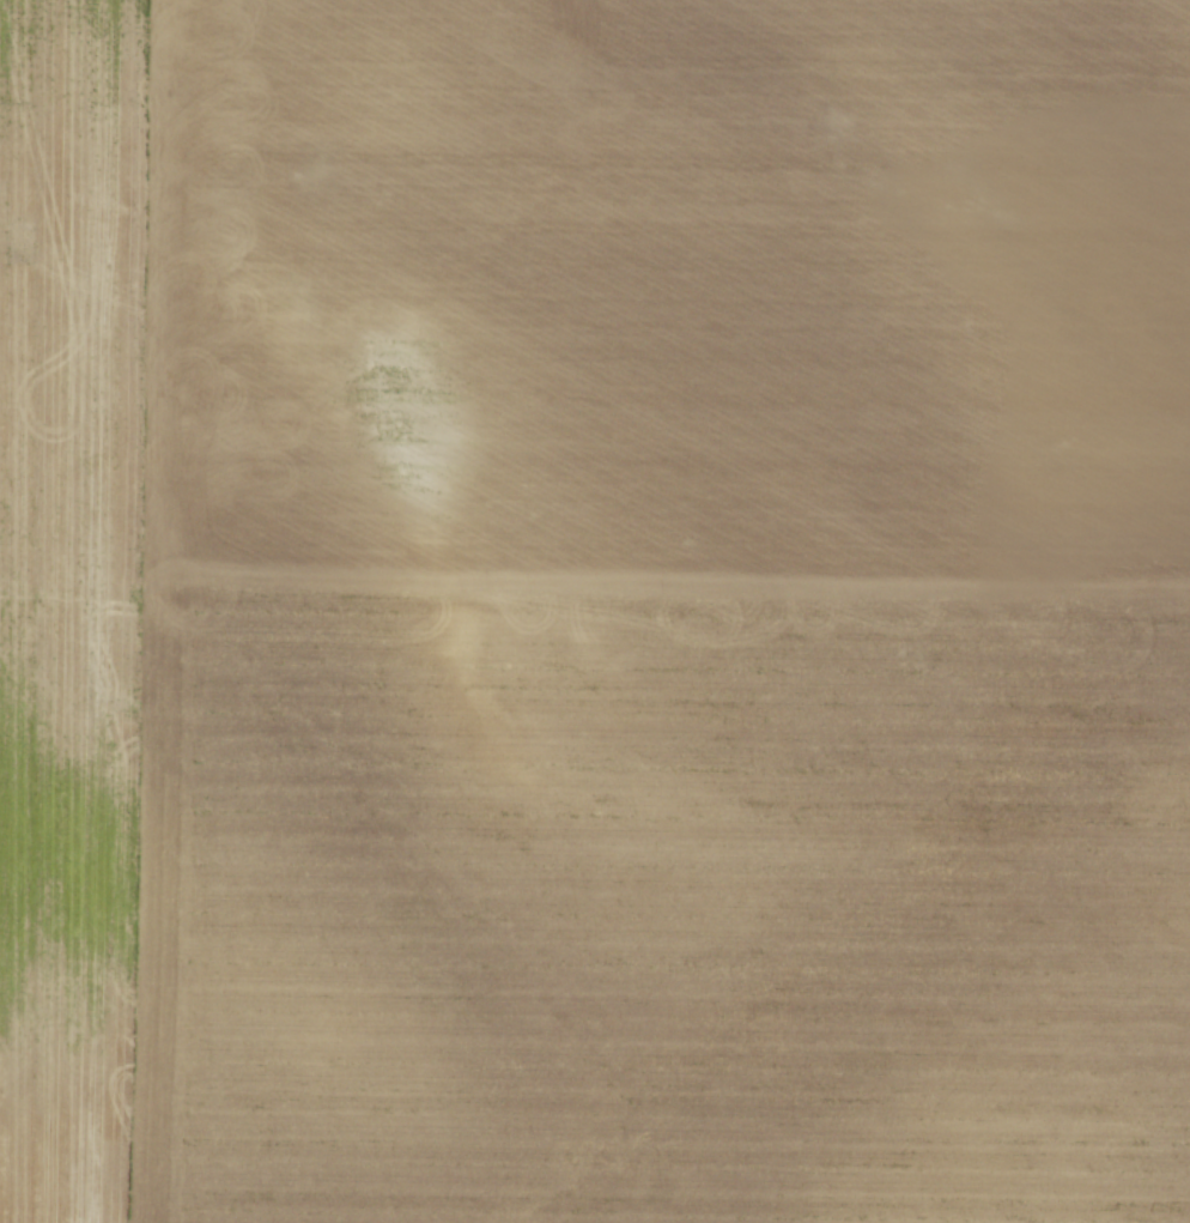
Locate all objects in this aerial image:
crop: (595, 611)

